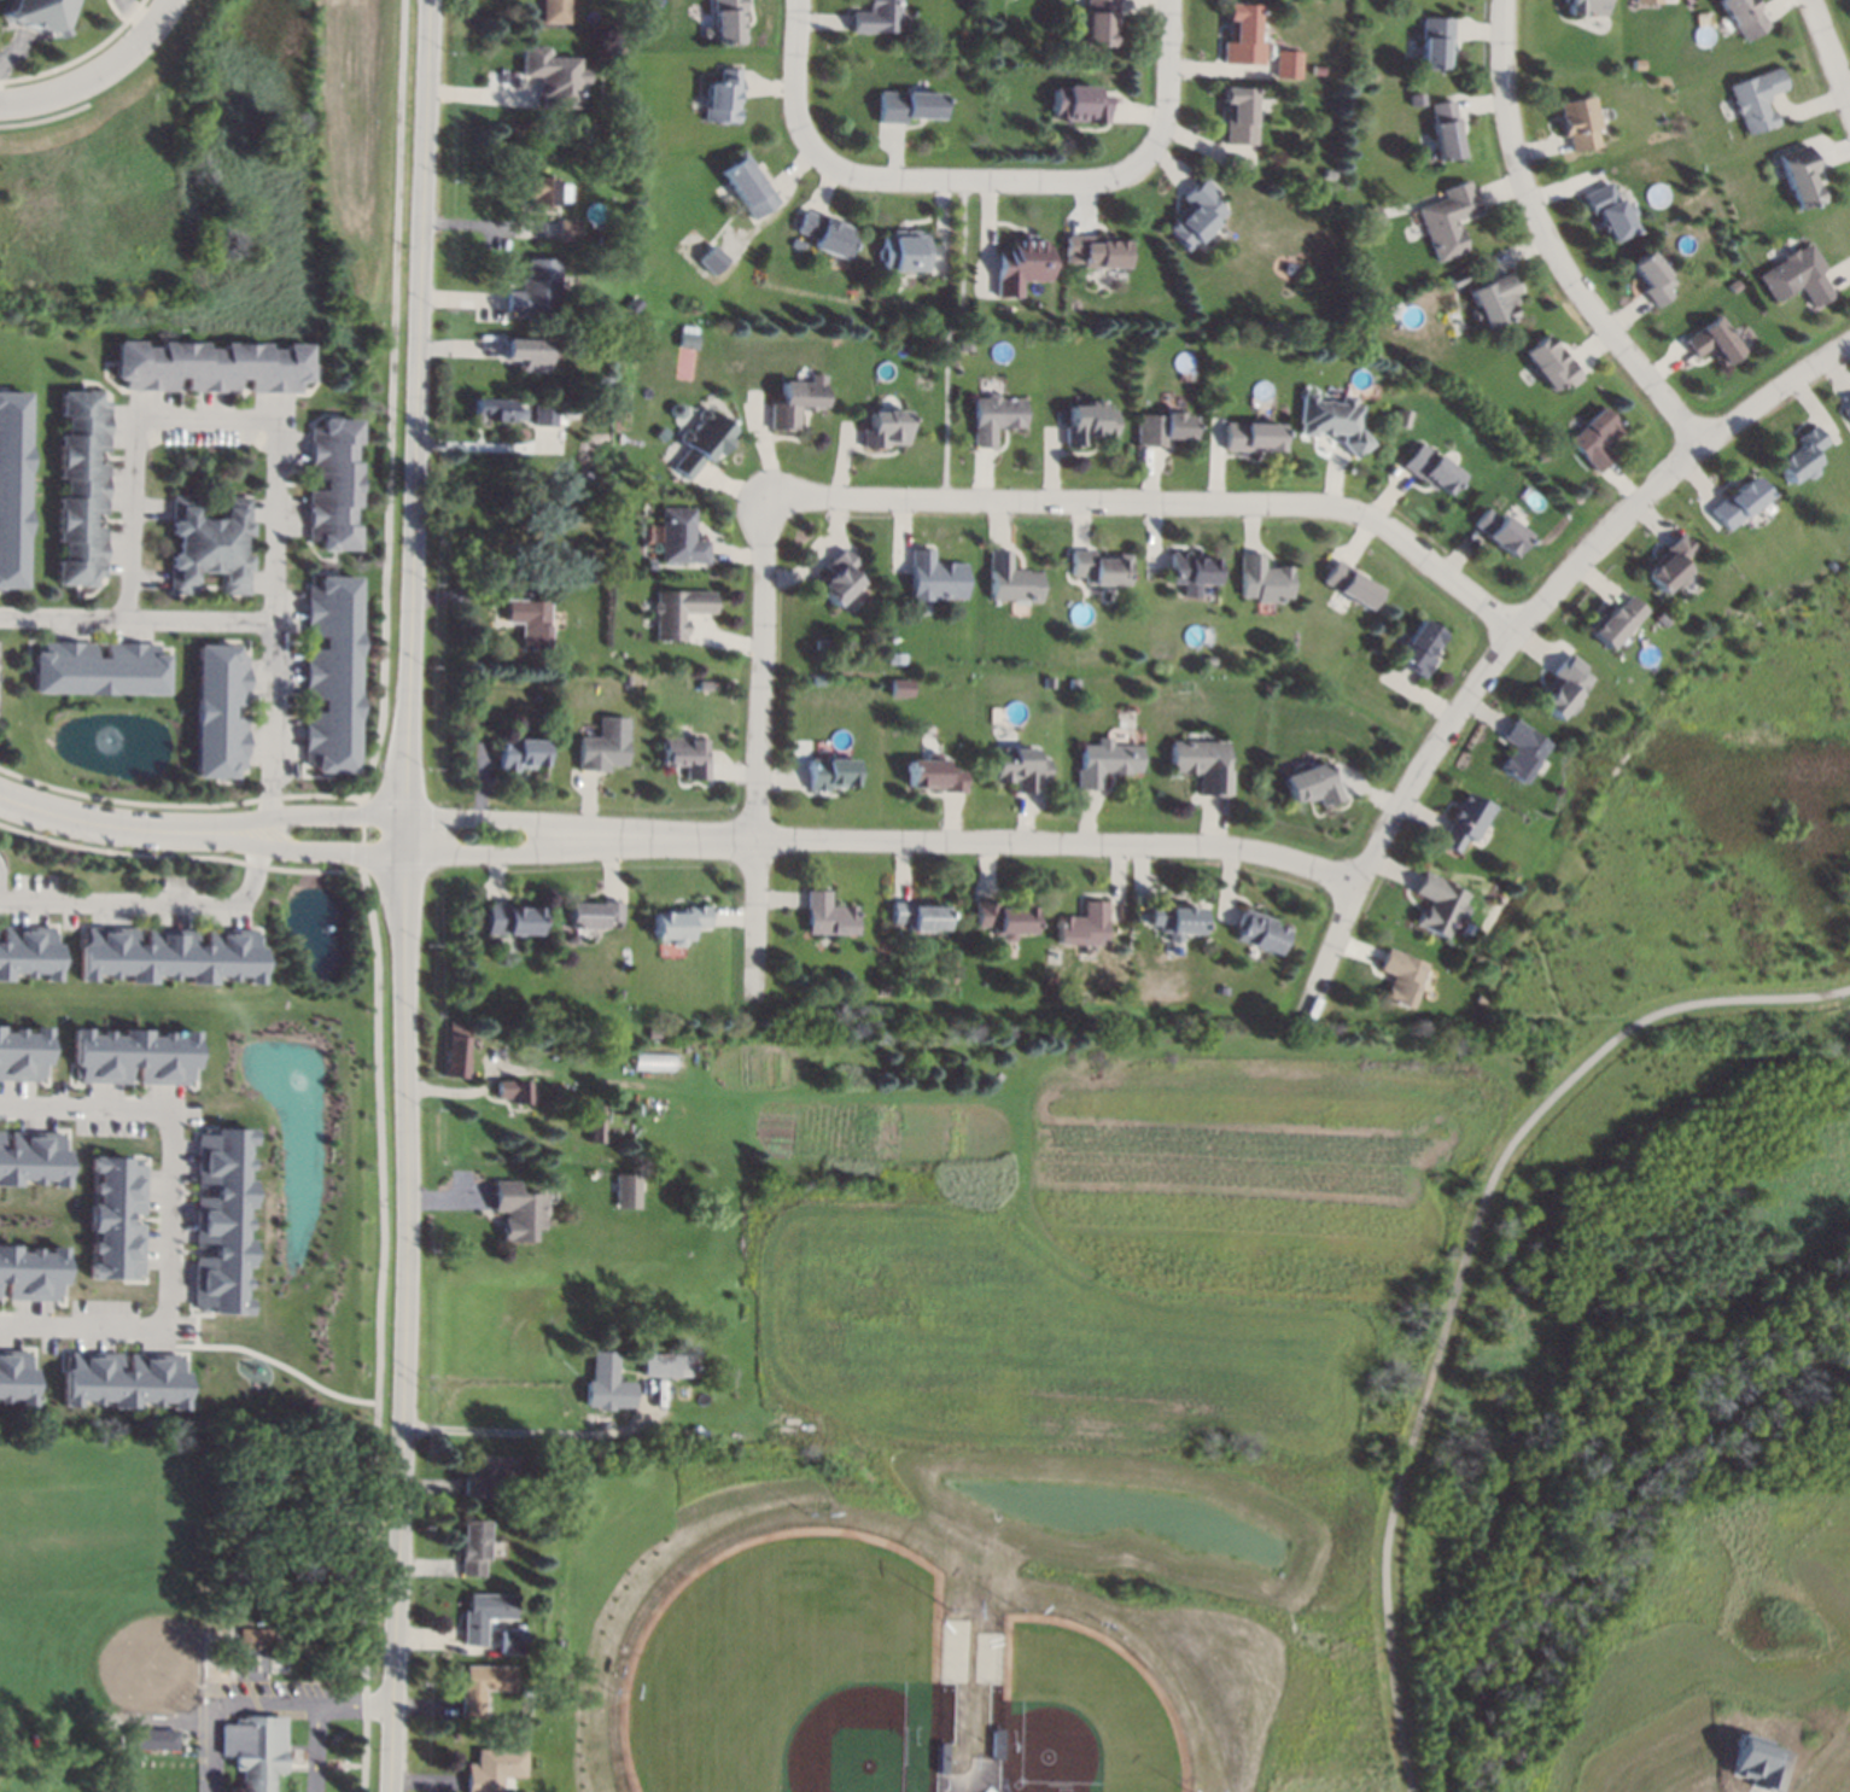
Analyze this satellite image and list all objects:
building: (1646, 1)
building: (1583, 7)
road: (139, 11)
building: (553, 11)
building: (36, 13)
building: (875, 17)
building: (1743, 17)
building: (726, 21)
building: (1101, 22)
building: (1241, 36)
building: (1434, 40)
road: (1831, 51)
road: (17, 52)
building: (1286, 64)
building: (1314, 68)
road: (97, 71)
building: (550, 74)
road: (1172, 76)
road: (795, 81)
building: (722, 97)
building: (1414, 99)
building: (1755, 99)
building: (1076, 104)
building: (905, 106)
building: (1237, 115)
building: (1576, 123)
building: (1442, 129)
building: (1327, 174)
building: (1797, 175)
road: (990, 179)
building: (748, 185)
building: (544, 189)
building: (1607, 210)
building: (1194, 215)
building: (1370, 216)
building: (1447, 218)
building: (566, 228)
building: (828, 235)
building: (602, 239)
road: (1550, 243)
building: (798, 244)
building: (904, 251)
building: (1098, 252)
building: (599, 258)
building: (712, 259)
building: (1020, 265)
building: (1794, 275)
building: (1454, 279)
building: (1651, 279)
building: (535, 287)
building: (1493, 299)
building: (1031, 302)
road: (945, 337)
building: (687, 339)
building: (1711, 340)
building: (963, 343)
building: (526, 354)
building: (1548, 363)
building: (211, 366)
building: (601, 384)
building: (794, 401)
road: (390, 402)
road: (416, 407)
building: (489, 408)
building: (1846, 410)
building: (542, 414)
building: (993, 418)
building: (1400, 418)
building: (1331, 420)
building: (1086, 422)
building: (882, 428)
building: (1160, 428)
building: (1250, 436)
building: (1594, 438)
building: (700, 442)
road: (486, 448)
building: (1540, 455)
building: (1798, 456)
road: (274, 460)
building: (1429, 469)
building: (332, 483)
building: (12, 488)
building: (82, 488)
road: (1162, 501)
building: (1735, 502)
building: (1499, 531)
building: (678, 537)
building: (209, 543)
building: (648, 564)
building: (1669, 565)
building: (1097, 567)
building: (1190, 568)
building: (594, 577)
building: (932, 577)
building: (835, 578)
building: (1008, 579)
building: (1261, 579)
building: (1347, 584)
building: (678, 611)
building: (1658, 618)
road: (136, 620)
building: (526, 621)
building: (1613, 621)
road: (1516, 628)
building: (818, 643)
building: (1416, 648)
building: (894, 658)
building: (1208, 660)
building: (99, 669)
building: (331, 673)
building: (626, 678)
building: (817, 681)
building: (1046, 681)
building: (1072, 682)
building: (704, 685)
building: (1562, 687)
building: (897, 688)
building: (220, 710)
building: (603, 746)
road: (759, 747)
building: (1518, 751)
building: (519, 754)
building: (684, 755)
building: (1103, 761)
building: (1201, 764)
building: (1016, 769)
building: (829, 774)
building: (933, 775)
building: (1309, 783)
road: (363, 813)
road: (303, 815)
building: (1460, 822)
road: (100, 823)
road: (542, 823)
road: (361, 833)
road: (1021, 841)
road: (303, 848)
road: (542, 851)
road: (360, 853)
road: (2, 883)
building: (1436, 905)
road: (154, 909)
building: (589, 913)
building: (916, 913)
building: (824, 915)
building: (508, 918)
building: (1002, 918)
building: (1173, 920)
building: (675, 923)
building: (1080, 926)
building: (1256, 932)
building: (29, 952)
building: (170, 953)
building: (1399, 976)
building: (852, 985)
building: (618, 992)
building: (1478, 999)
building: (650, 1033)
building: (455, 1047)
building: (127, 1049)
building: (19, 1050)
building: (652, 1061)
building: (512, 1091)
road: (181, 1116)
building: (593, 1126)
building: (29, 1143)
building: (626, 1190)
building: (121, 1203)
building: (226, 1203)
park: (1616, 1203)
building: (515, 1210)
crop: (1084, 1255)
building: (29, 1260)
road: (1463, 1273)
road: (404, 1303)
road: (89, 1314)
road: (379, 1327)
road: (272, 1361)
building: (16, 1362)
building: (663, 1364)
building: (123, 1365)
building: (602, 1365)
road: (537, 1435)
building: (484, 1473)
river: (1605, 1519)
building: (471, 1547)
park: (97, 1582)
building: (480, 1615)
building: (253, 1638)
building: (509, 1640)
building: (478, 1686)
road: (263, 1703)
park: (775, 1712)
park: (1099, 1717)
building: (150, 1738)
road: (315, 1746)
building: (253, 1749)
building: (1756, 1762)
building: (490, 1769)
park: (159, 1773)
building: (988, 1790)
building: (517, 1791)

